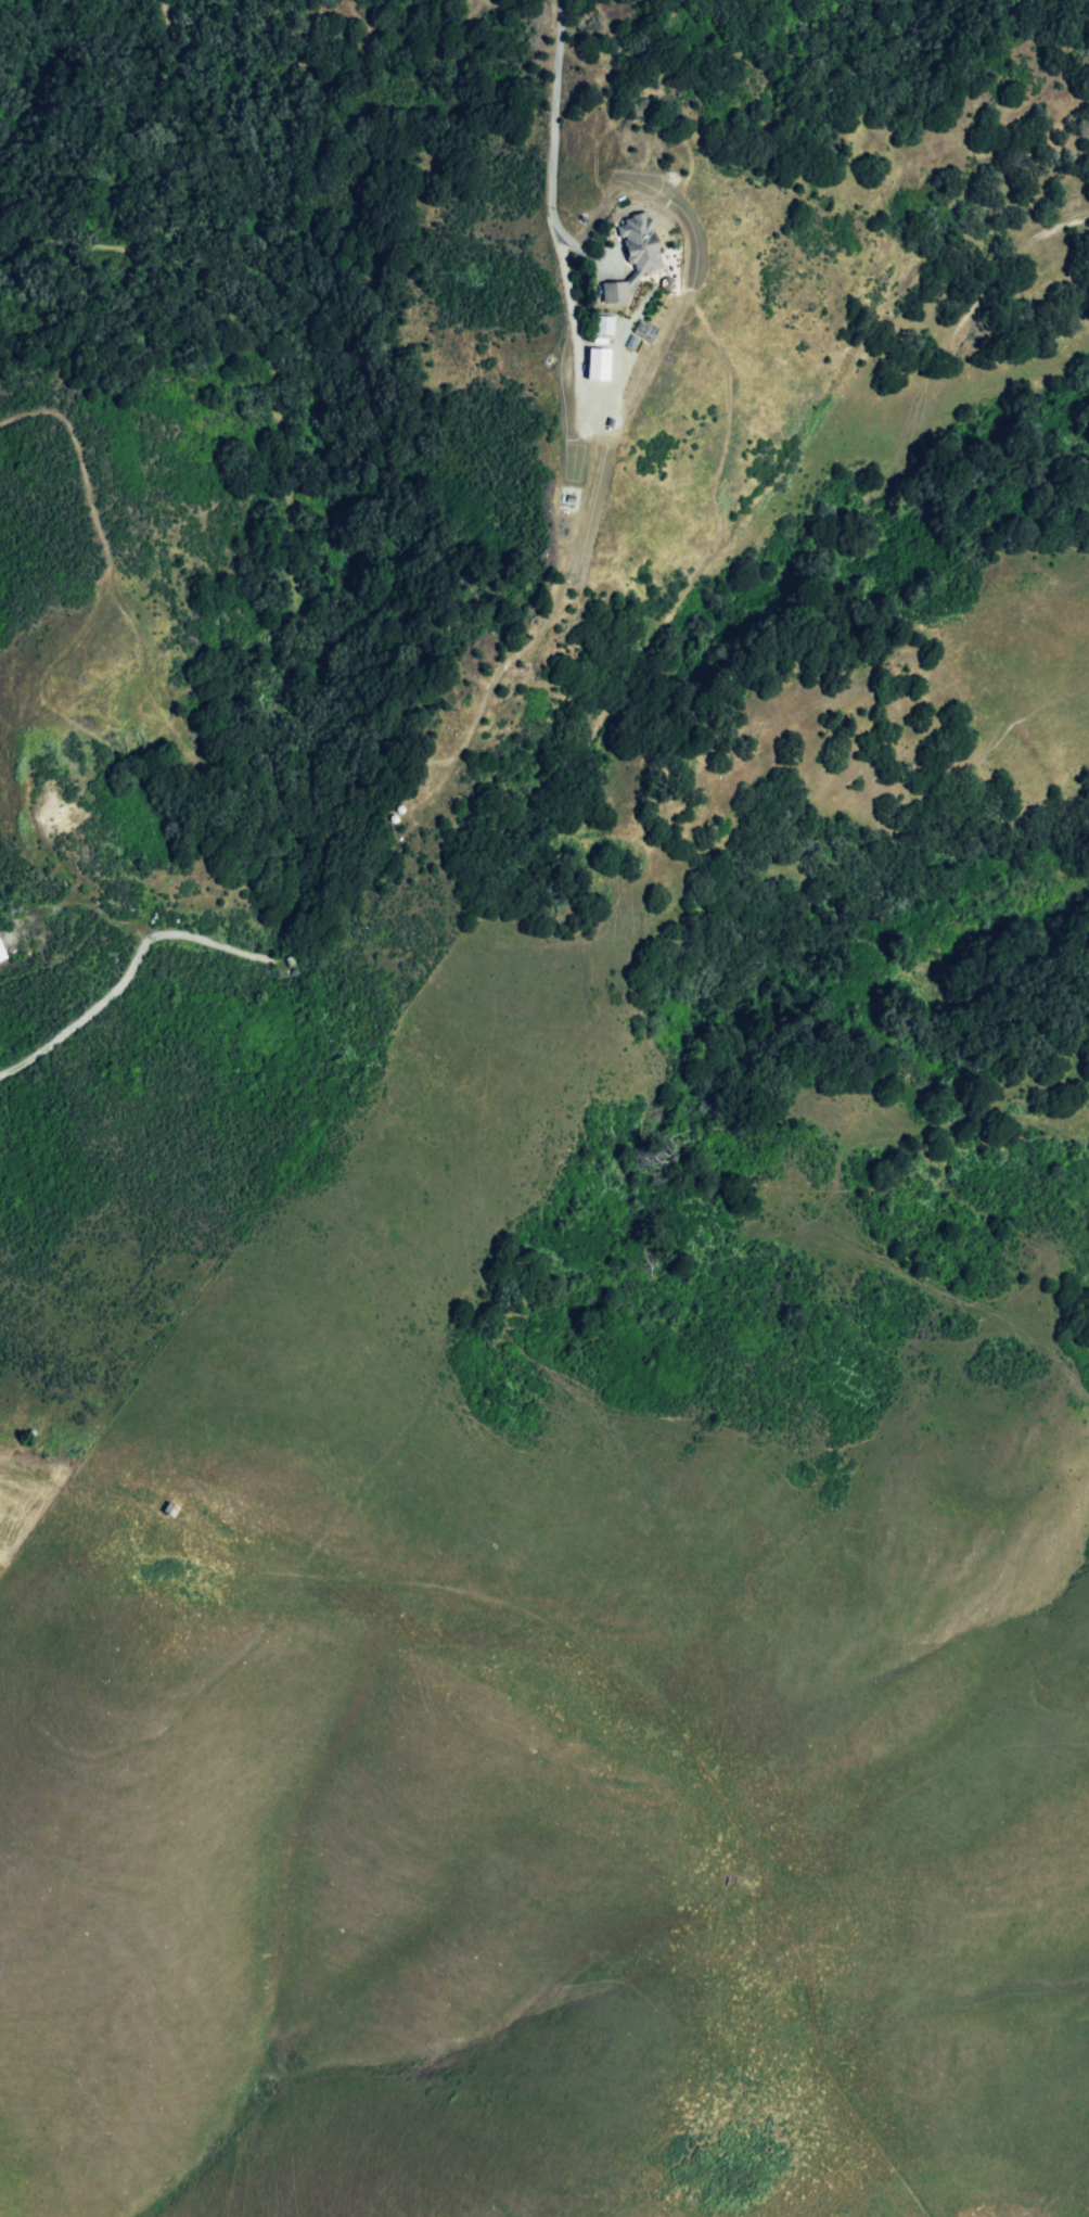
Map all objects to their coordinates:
road: (561, 123)
building: (638, 246)
building: (612, 298)
building: (603, 324)
building: (602, 352)
road: (447, 779)
building: (3, 951)
road: (608, 1654)

